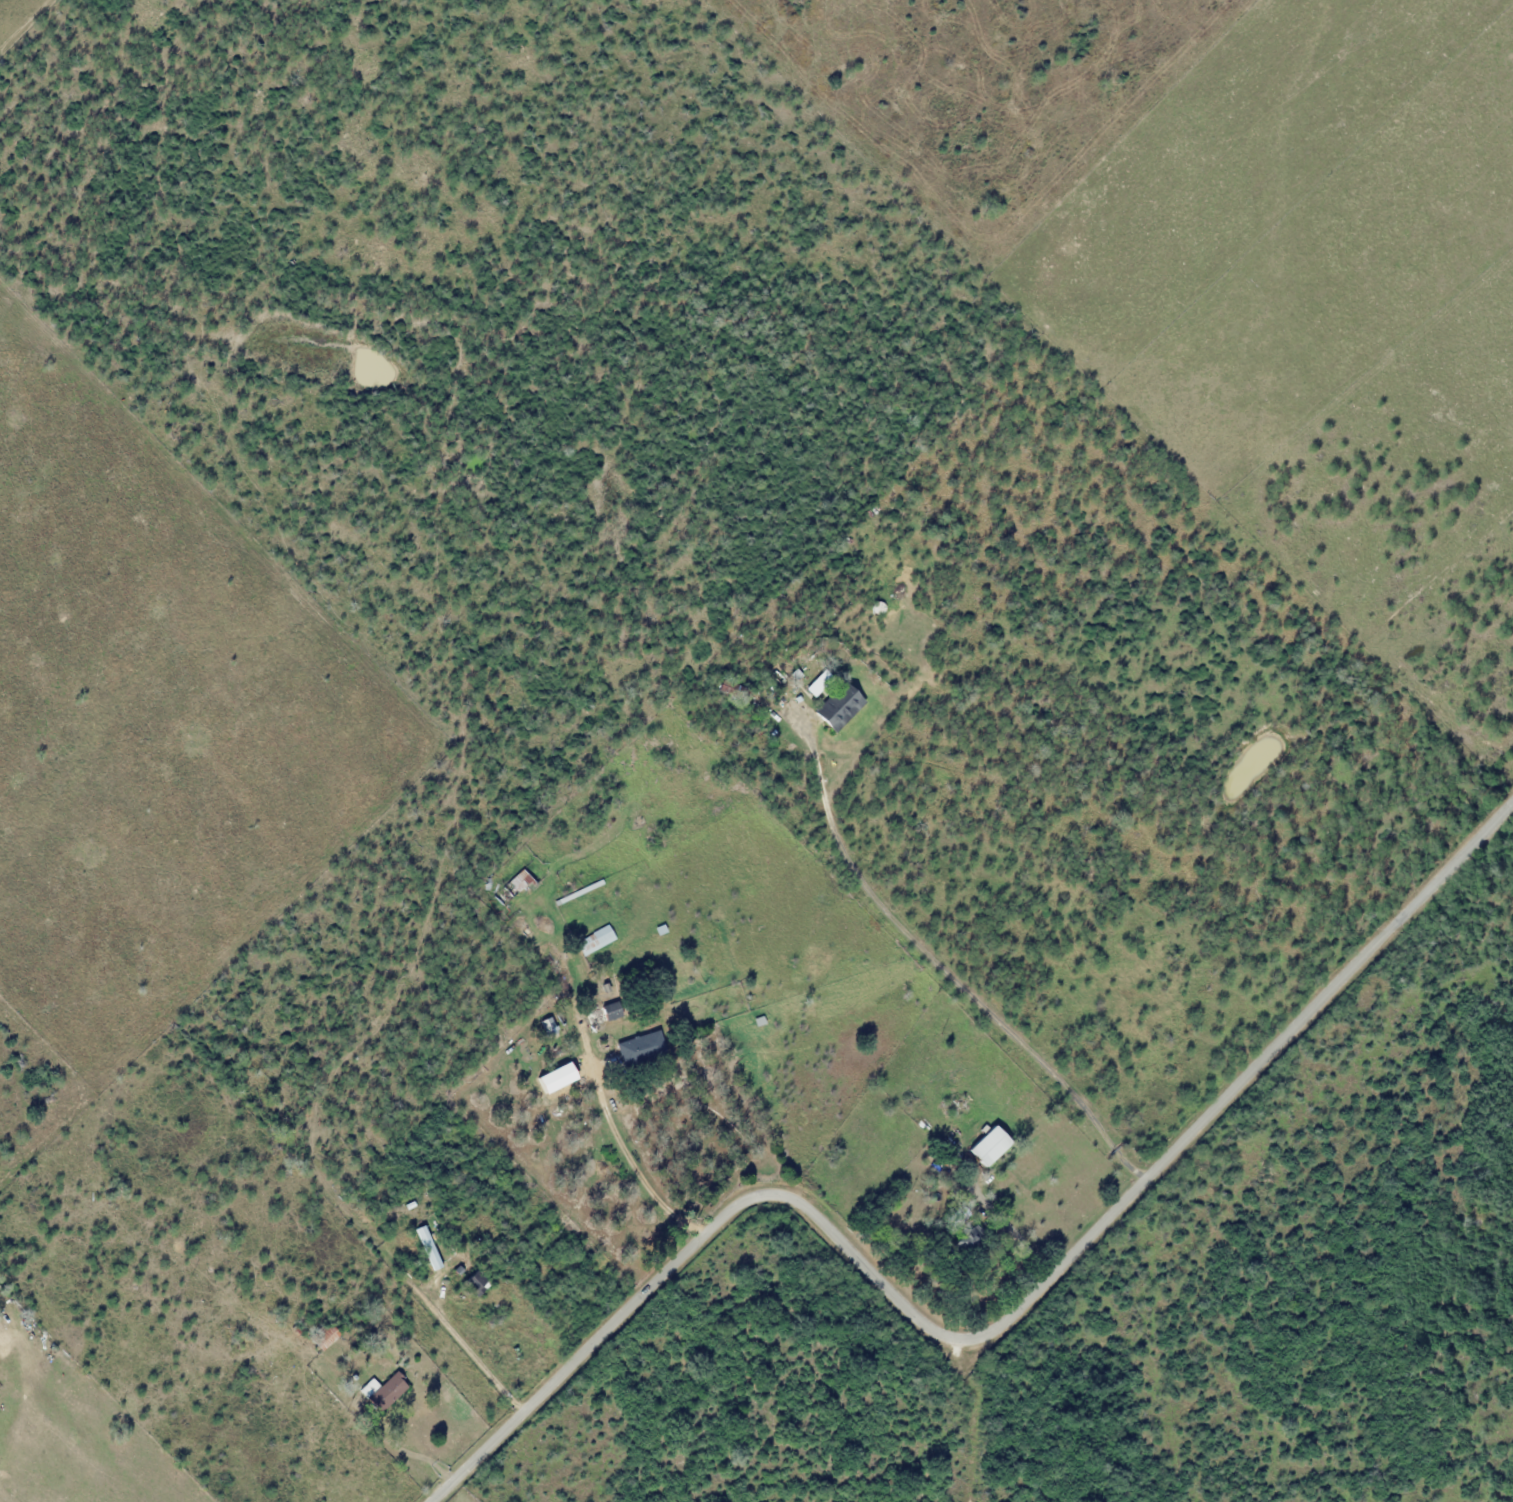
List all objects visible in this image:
building: (816, 682)
building: (838, 708)
building: (513, 888)
building: (594, 941)
building: (613, 1011)
building: (549, 1026)
building: (640, 1047)
building: (988, 1146)
road: (634, 1161)
building: (959, 1215)
building: (427, 1248)
building: (477, 1284)
road: (993, 1330)
building: (326, 1337)
building: (369, 1389)
building: (385, 1393)

